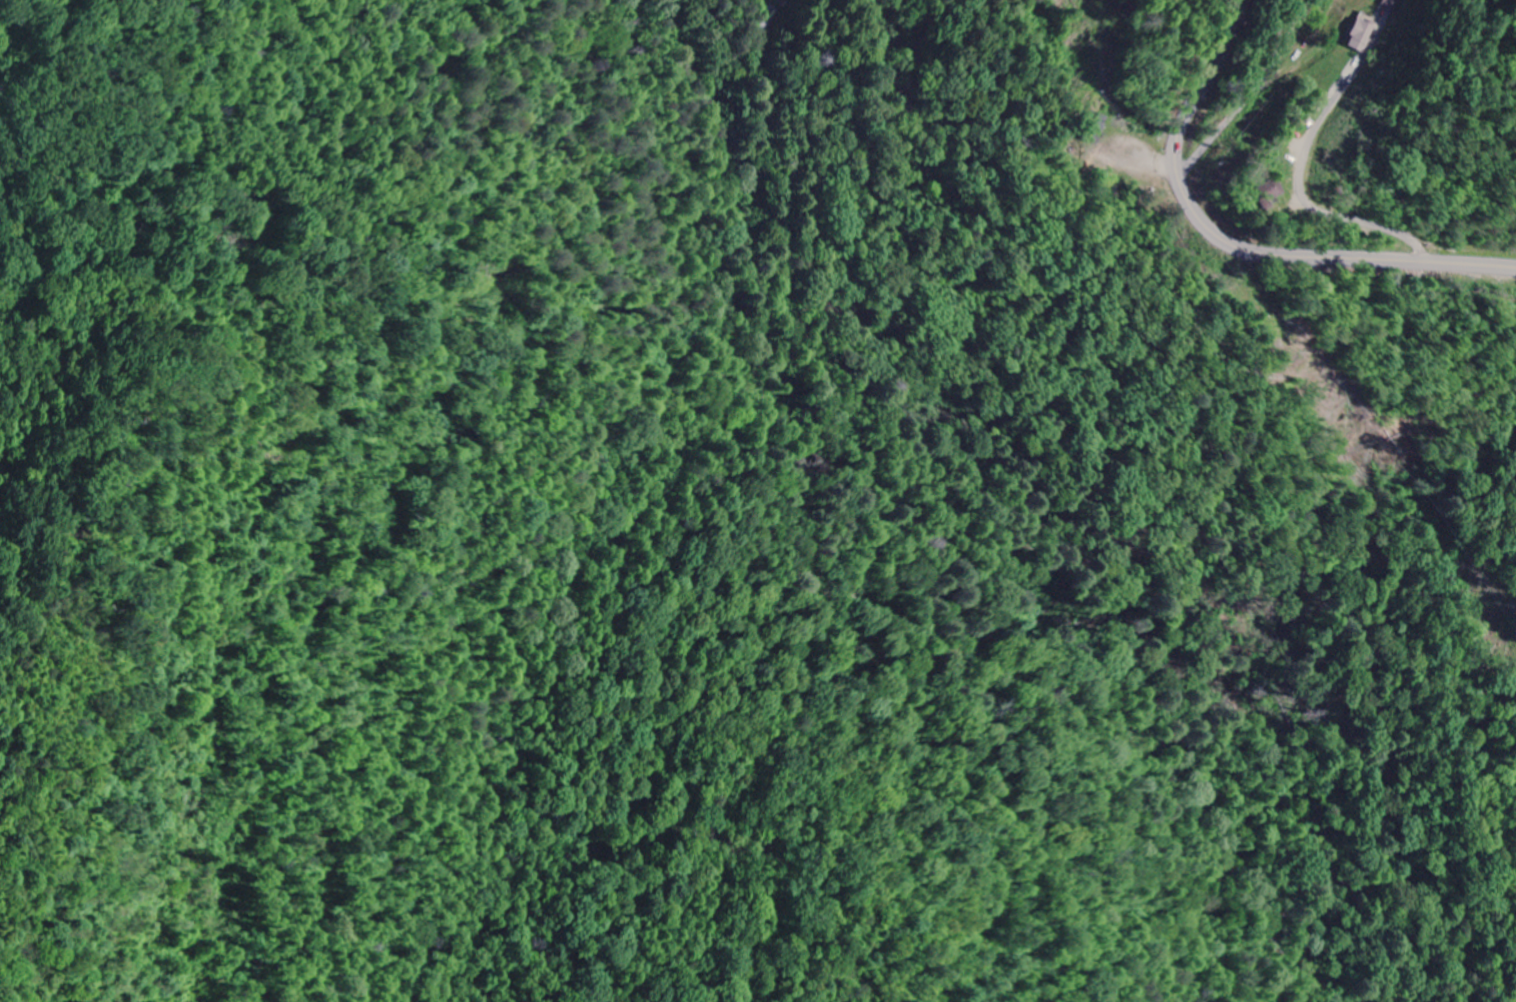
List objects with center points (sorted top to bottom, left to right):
road: (1381, 28)
building: (1362, 33)
road: (1255, 93)
road: (1303, 190)
building: (1271, 193)
road: (1234, 244)

